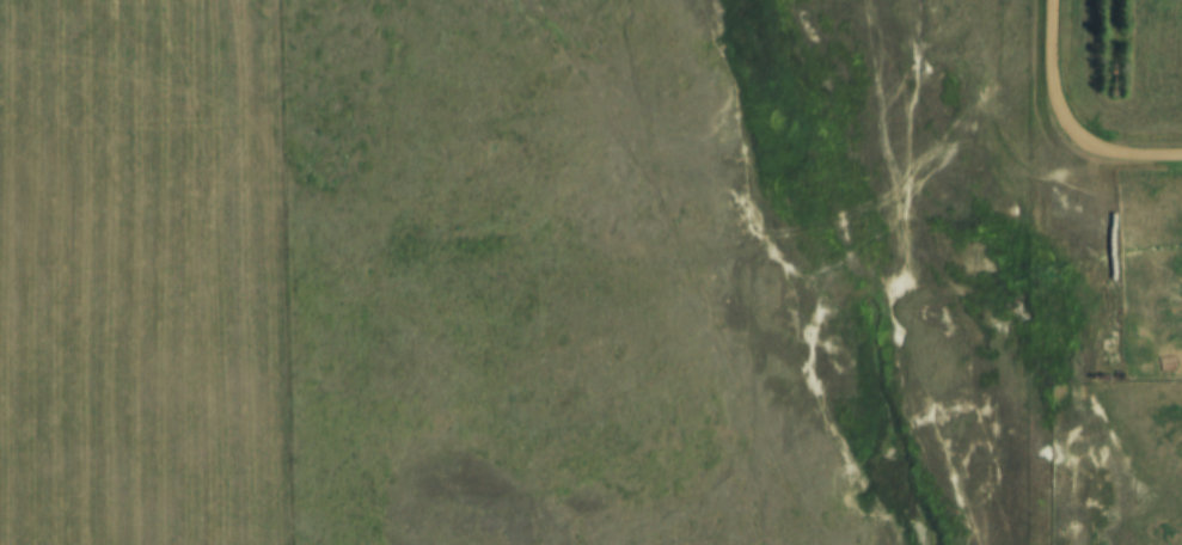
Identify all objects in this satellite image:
road: (1062, 125)

